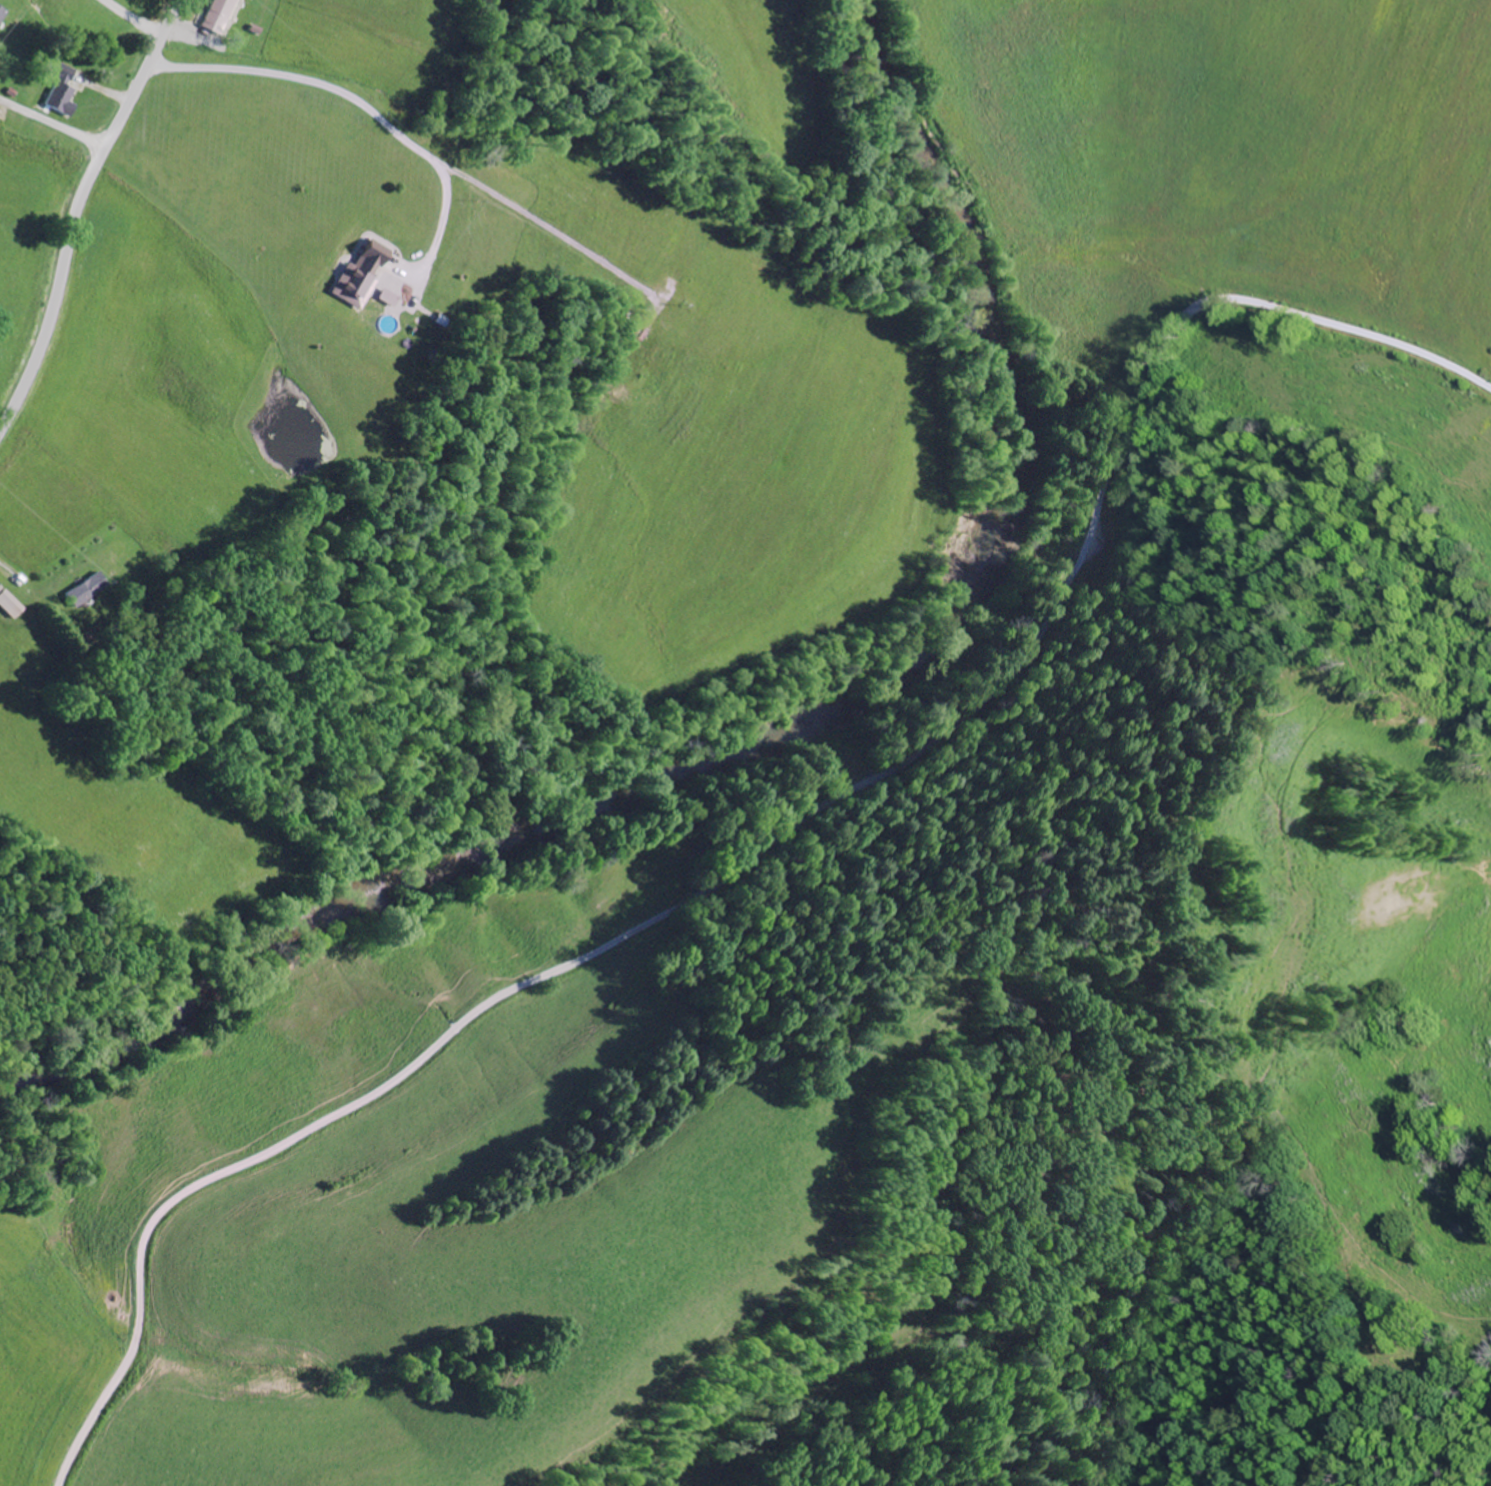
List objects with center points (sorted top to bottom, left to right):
building: (1, 14)
building: (219, 16)
building: (63, 93)
road: (80, 210)
building: (362, 276)
building: (389, 299)
building: (87, 592)
building: (10, 605)
river: (789, 733)
road: (776, 840)

